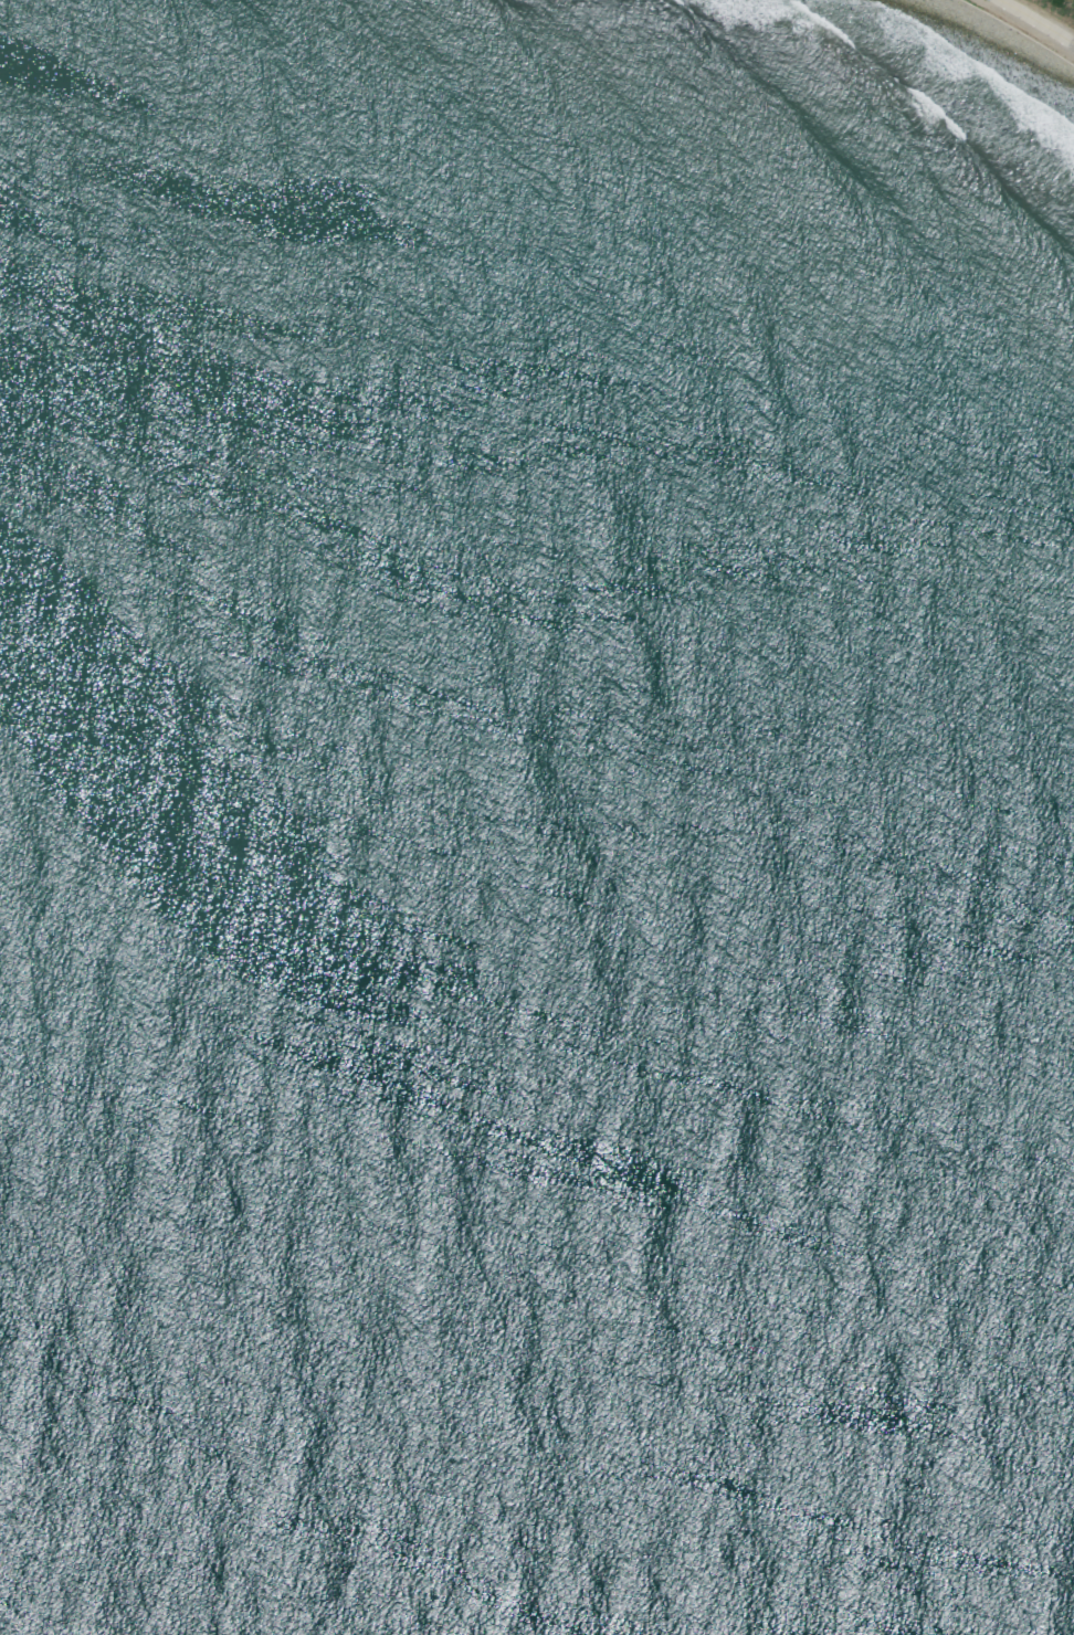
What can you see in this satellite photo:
road: (1039, 18)
park: (1021, 29)

